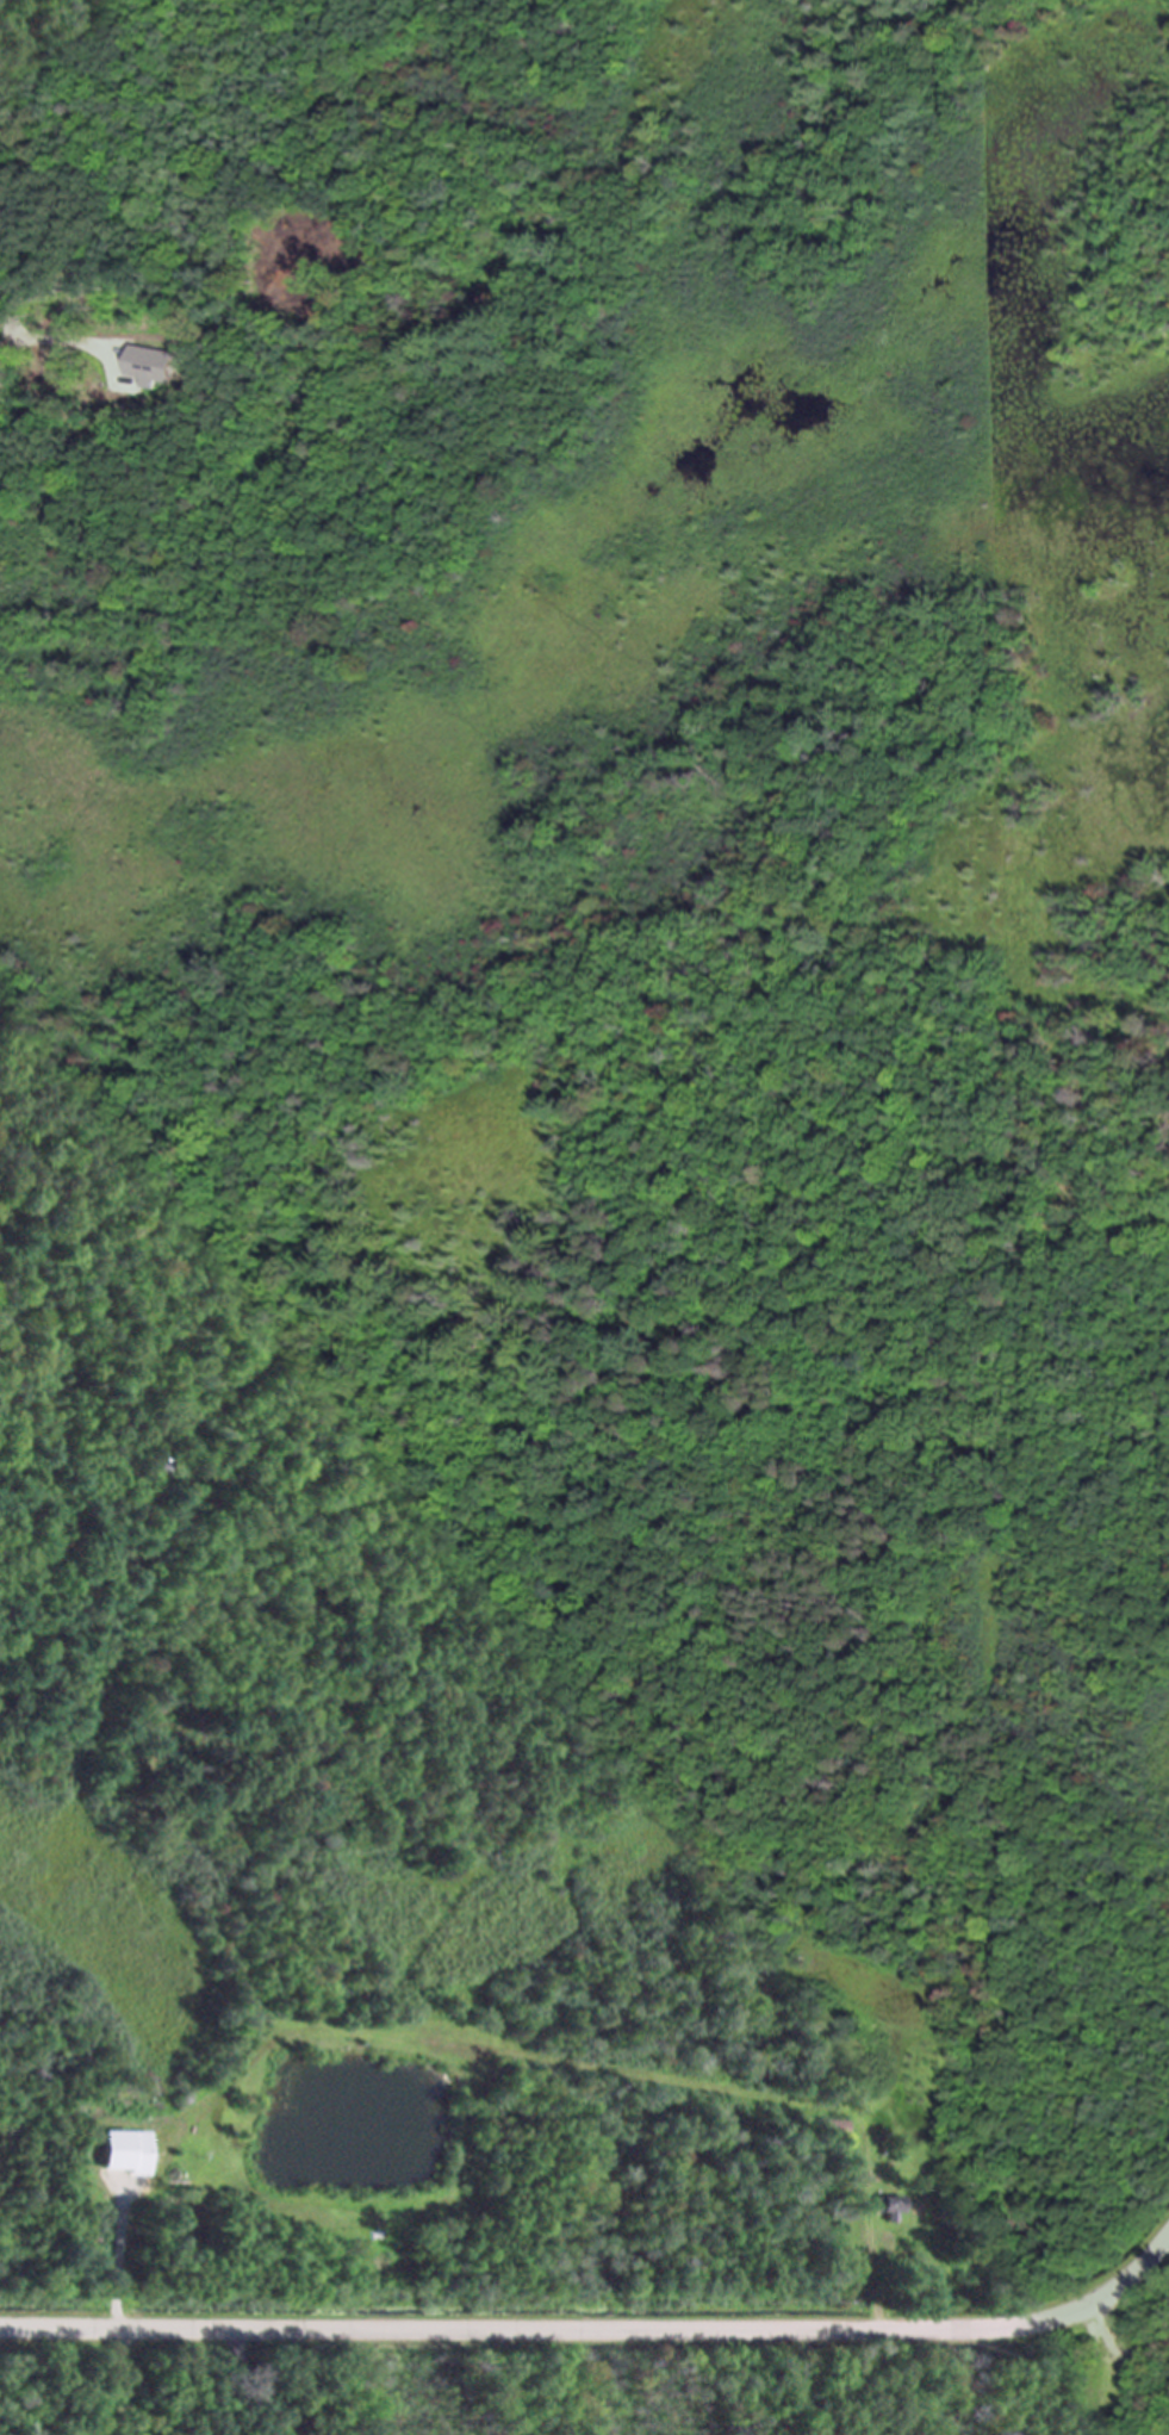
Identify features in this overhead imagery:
building: (126, 2151)
building: (893, 2205)
road: (601, 2327)
road: (1120, 2338)
road: (254, 2384)

